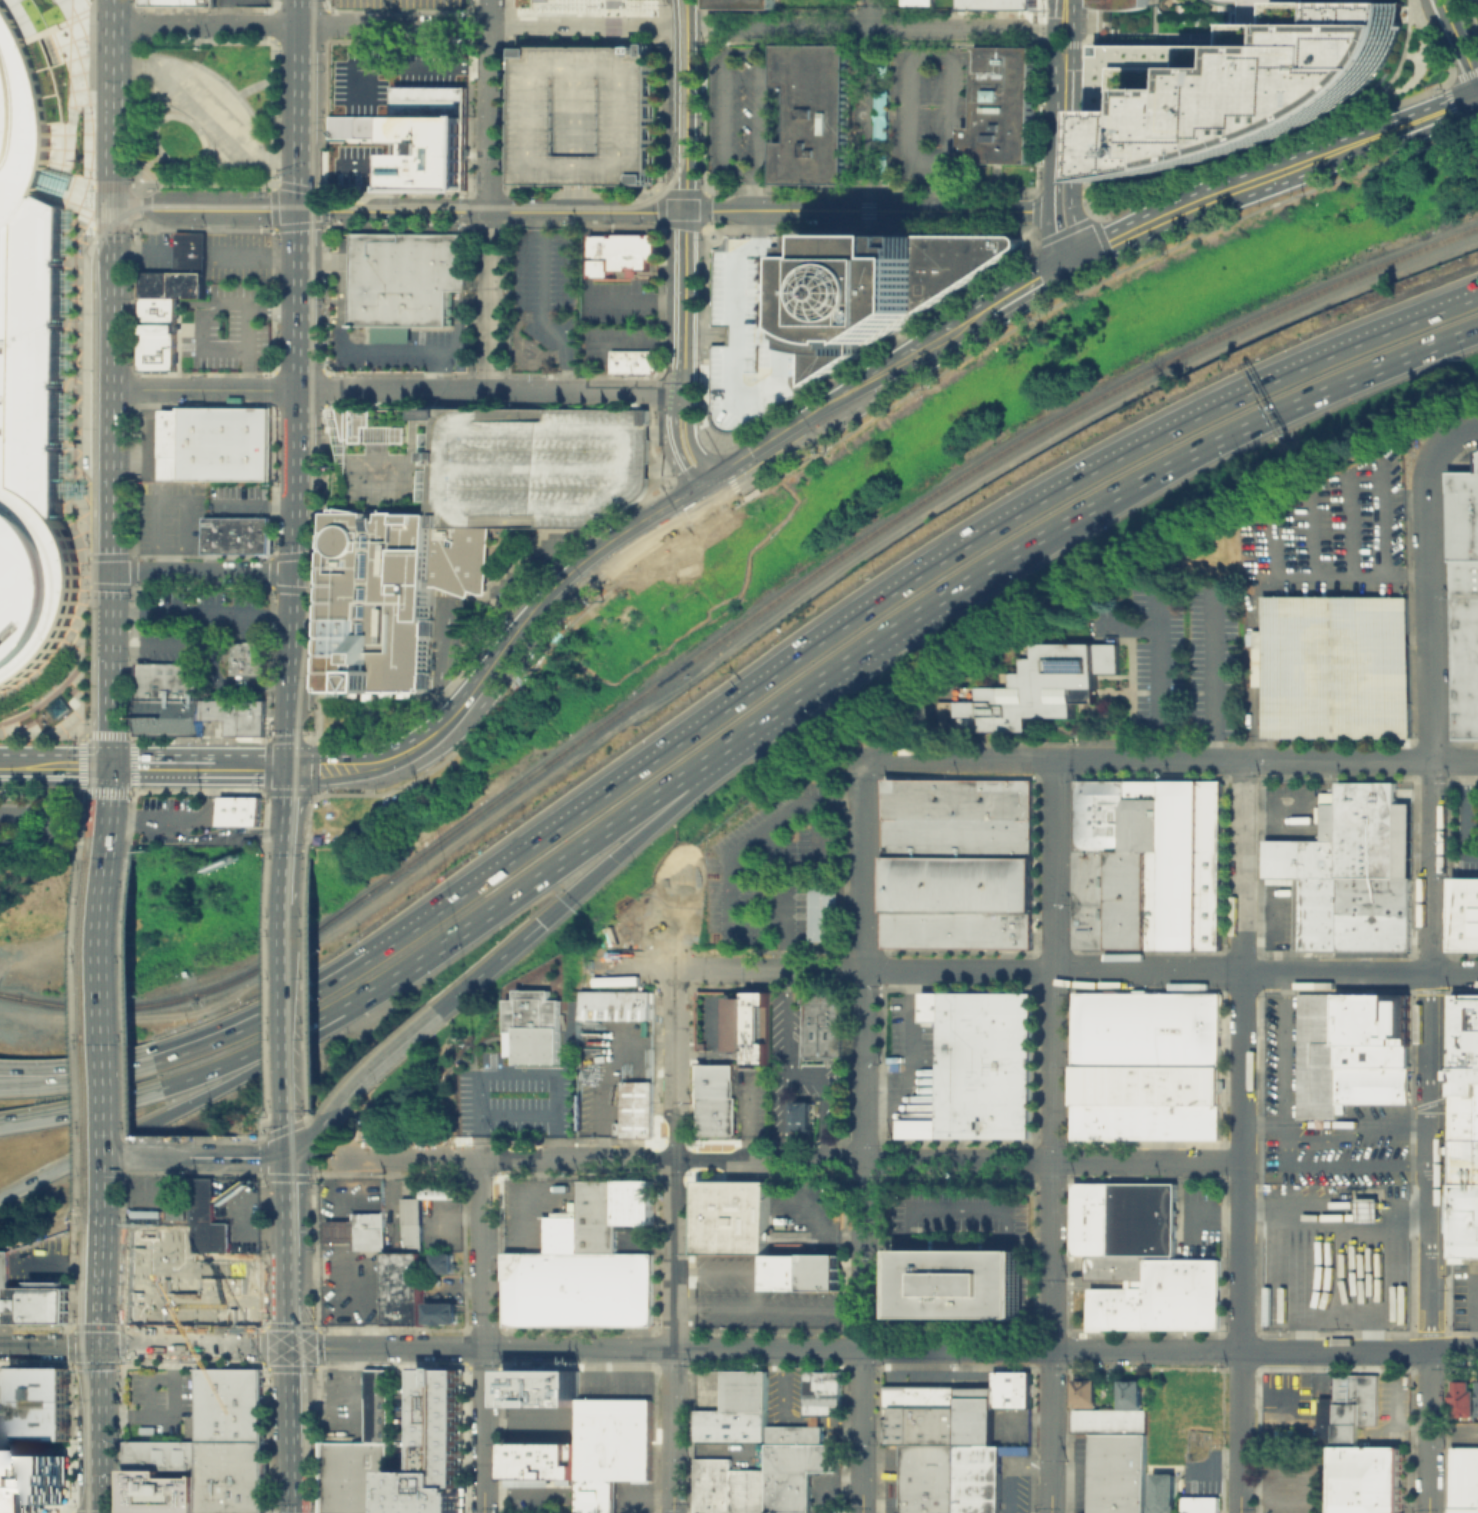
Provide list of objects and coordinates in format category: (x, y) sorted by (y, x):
building: (177, 2)
parking lot: (241, 2)
parking lot: (397, 2)
building: (917, 3)
building: (1120, 3)
building: (1222, 3)
road: (326, 5)
building: (742, 5)
park: (871, 5)
building: (1002, 6)
building: (587, 7)
road: (73, 10)
building: (1256, 10)
road: (223, 12)
road: (686, 13)
road: (19, 16)
road: (326, 18)
road: (136, 23)
road: (301, 25)
road: (588, 26)
road: (875, 27)
road: (274, 33)
road: (293, 41)
road: (1460, 41)
road: (733, 53)
road: (910, 54)
road: (139, 72)
parking lot: (391, 73)
road: (1064, 78)
road: (272, 83)
building: (1233, 85)
road: (113, 105)
road: (868, 105)
building: (1003, 110)
park: (203, 111)
parking lot: (929, 111)
road: (136, 112)
road: (274, 113)
building: (583, 113)
parking lot: (583, 113)
building: (880, 114)
parking lot: (742, 116)
building: (813, 116)
road: (204, 117)
fountain: (859, 117)
road: (687, 119)
building: (419, 135)
road: (272, 163)
parking lot: (359, 163)
road: (1061, 163)
road: (1279, 174)
road: (138, 182)
building: (64, 183)
road: (124, 184)
road: (282, 185)
road: (295, 187)
road: (950, 187)
road: (1057, 191)
road: (754, 193)
road: (489, 194)
road: (300, 195)
railway: (361, 195)
road: (136, 197)
road: (273, 197)
railway: (167, 206)
road: (1075, 207)
traffic signals: (113, 210)
traffic signals: (300, 211)
road: (399, 211)
road: (871, 211)
road: (1065, 238)
road: (257, 254)
building: (622, 255)
parking lot: (239, 260)
traffic signals: (1084, 260)
building: (886, 283)
building: (407, 284)
road: (1037, 284)
parking lot: (544, 299)
road: (635, 299)
road: (127, 300)
road: (159, 300)
building: (170, 300)
road: (202, 300)
parking lot: (618, 300)
road: (541, 306)
road: (273, 308)
road: (1402, 319)
building: (755, 326)
parking lot: (755, 326)
road: (199, 328)
parking lot: (227, 329)
road: (1463, 331)
road: (705, 334)
road: (616, 339)
parking lot: (612, 340)
parking lot: (405, 348)
road: (682, 353)
building: (632, 361)
building: (30, 382)
road: (206, 389)
road: (490, 390)
road: (736, 390)
road: (326, 398)
road: (414, 399)
road: (850, 400)
road: (92, 405)
road: (329, 407)
building: (356, 424)
railway: (310, 426)
road: (406, 427)
road: (1456, 438)
road: (1210, 443)
building: (216, 447)
road: (1117, 452)
building: (539, 465)
parking lot: (539, 465)
road: (324, 475)
road: (79, 480)
road: (167, 497)
parking lot: (235, 499)
road: (255, 503)
road: (665, 519)
railway: (317, 531)
road: (112, 533)
road: (299, 535)
parking lot: (1339, 535)
building: (237, 539)
railway: (82, 550)
road: (311, 554)
road: (98, 556)
traffic signals: (112, 572)
road: (205, 572)
traffic signals: (299, 572)
road: (532, 578)
road: (583, 583)
road: (1259, 588)
building: (396, 594)
building: (1465, 604)
road: (1433, 605)
parking lot: (213, 609)
road: (205, 613)
railway: (732, 627)
road: (323, 629)
parking lot: (164, 643)
road: (148, 645)
road: (735, 645)
parking lot: (1178, 651)
building: (251, 660)
road: (460, 662)
building: (1337, 665)
road: (1156, 671)
road: (228, 675)
road: (1215, 675)
building: (1034, 688)
building: (170, 700)
building: (242, 714)
building: (70, 717)
road: (295, 723)
road: (689, 728)
road: (755, 739)
road: (411, 756)
road: (960, 759)
road: (1244, 760)
road: (1455, 760)
road: (639, 763)
road: (55, 765)
traffic signals: (110, 765)
road: (163, 765)
traffic signals: (294, 766)
road: (678, 776)
building: (246, 809)
road: (293, 809)
road: (190, 819)
parking lot: (192, 822)
parking lot: (33, 826)
road: (54, 828)
parking lot: (1465, 830)
road: (248, 832)
building: (957, 862)
road: (864, 864)
building: (1147, 864)
road: (1432, 866)
parking lot: (773, 869)
building: (1352, 872)
road: (292, 877)
building: (822, 913)
building: (1464, 913)
traffic signals: (539, 921)
road: (0, 959)
road: (488, 965)
road: (865, 969)
road: (1148, 970)
road: (1360, 971)
railway: (299, 981)
railway: (10, 995)
building: (615, 1004)
road: (291, 1005)
road: (261, 1013)
building: (1371, 1019)
building: (821, 1022)
road: (109, 1025)
parking lot: (719, 1025)
building: (748, 1025)
building: (537, 1029)
railway: (89, 1030)
parking lot: (908, 1030)
road: (270, 1042)
road: (909, 1045)
road: (1284, 1047)
road: (717, 1048)
road: (1053, 1055)
building: (1371, 1055)
road: (386, 1056)
building: (1315, 1056)
road: (602, 1063)
road: (787, 1065)
building: (978, 1065)
building: (1146, 1065)
parking lot: (610, 1069)
parking lot: (796, 1069)
road: (98, 1071)
road: (22, 1076)
road: (521, 1079)
road: (22, 1083)
building: (1371, 1084)
road: (193, 1099)
parking lot: (520, 1099)
building: (713, 1099)
parking lot: (750, 1099)
road: (821, 1102)
road: (80, 1107)
building: (636, 1108)
building: (801, 1115)
railway: (298, 1117)
road: (746, 1118)
parking lot: (1321, 1119)
road: (1271, 1124)
building: (1465, 1124)
road: (1357, 1129)
road: (292, 1132)
road: (321, 1134)
road: (1242, 1136)
road: (1285, 1153)
traffic signals: (109, 1156)
road: (152, 1156)
road: (246, 1156)
traffic signals: (296, 1156)
road: (792, 1161)
road: (1431, 1162)
road: (1358, 1166)
road: (337, 1173)
road: (307, 1178)
building: (445, 1188)
parking lot: (245, 1209)
road: (1212, 1209)
building: (1365, 1209)
parking lot: (536, 1210)
parking lot: (960, 1216)
building: (213, 1217)
building: (731, 1218)
building: (1090, 1218)
building: (1142, 1218)
parking lot: (1196, 1218)
parking lot: (806, 1219)
building: (416, 1222)
building: (362, 1230)
road: (296, 1238)
parking lot: (635, 1239)
road: (674, 1240)
road: (863, 1240)
road: (485, 1254)
parking lot: (45, 1261)
building: (445, 1262)
building: (586, 1262)
building: (1116, 1267)
road: (102, 1270)
road: (730, 1273)
building: (804, 1273)
building: (190, 1279)
building: (960, 1280)
building: (405, 1287)
parking lot: (445, 1288)
parking lot: (1463, 1293)
parking lot: (756, 1297)
building: (1161, 1297)
building: (30, 1302)
road: (768, 1308)
building: (442, 1312)
railway: (300, 1319)
road: (295, 1334)
road: (49, 1346)
traffic signals: (100, 1346)
road: (197, 1347)
traffic signals: (295, 1348)
road: (390, 1348)
road: (981, 1350)
railway: (85, 1358)
parking lot: (614, 1383)
building: (541, 1387)
building: (1010, 1388)
parking lot: (709, 1389)
road: (350, 1390)
building: (821, 1391)
building: (1083, 1392)
building: (1129, 1394)
road: (295, 1395)
building: (1464, 1398)
building: (1477, 1398)
parking lot: (157, 1400)
road: (408, 1402)
parking lot: (795, 1403)
parking lot: (1285, 1403)
building: (41, 1404)
building: (232, 1404)
building: (377, 1405)
parking lot: (345, 1406)
building: (736, 1408)
building: (1346, 1408)
road: (169, 1414)
building: (937, 1415)
parking lot: (403, 1419)
building: (1108, 1420)
parking lot: (541, 1423)
parking lot: (1009, 1425)
road: (100, 1429)
road: (484, 1430)
road: (1052, 1432)
building: (795, 1433)
road: (1430, 1433)
building: (611, 1448)
building: (433, 1449)
building: (1014, 1449)
parking lot: (734, 1453)
building: (162, 1454)
building: (541, 1459)
building: (795, 1473)
parking lot: (1082, 1473)
building: (1117, 1473)
building: (231, 1476)
road: (295, 1478)
building: (355, 1478)
parking lot: (891, 1478)
building: (927, 1478)
building: (977, 1478)
building: (1366, 1478)
building: (1463, 1479)
parking lot: (1293, 1481)
building: (32, 1482)
parking lot: (1013, 1483)
building: (711, 1485)
road: (536, 1490)
building: (748, 1490)
parking lot: (825, 1491)
building: (160, 1492)
building: (1162, 1492)
parking lot: (633, 1496)
parking lot: (530, 1503)
building: (1200, 1505)

